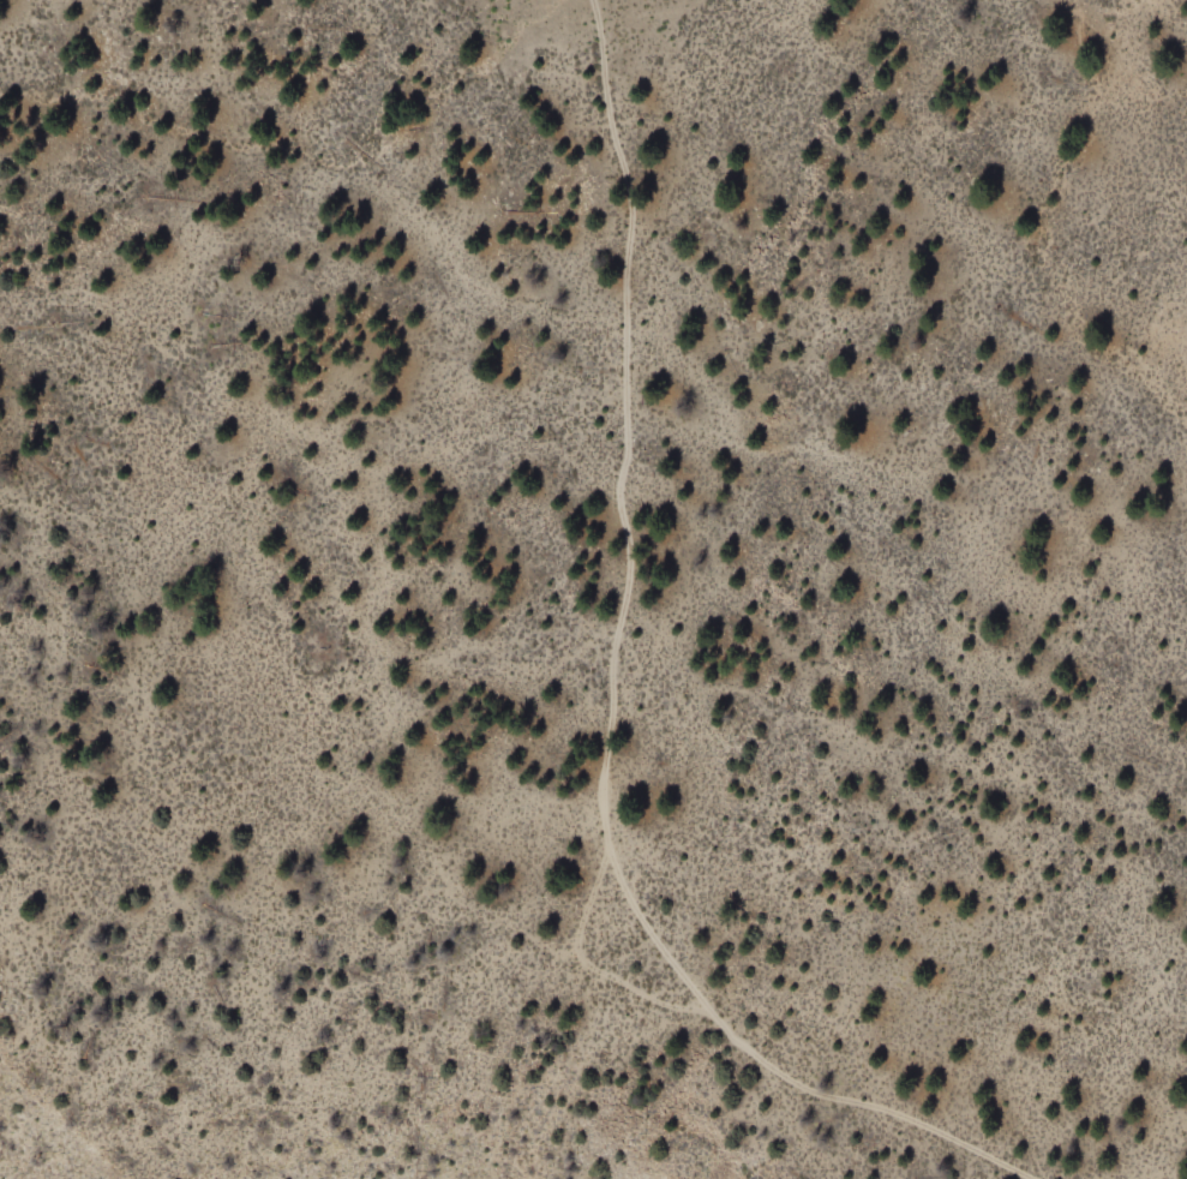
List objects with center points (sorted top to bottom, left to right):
road: (616, 694)

